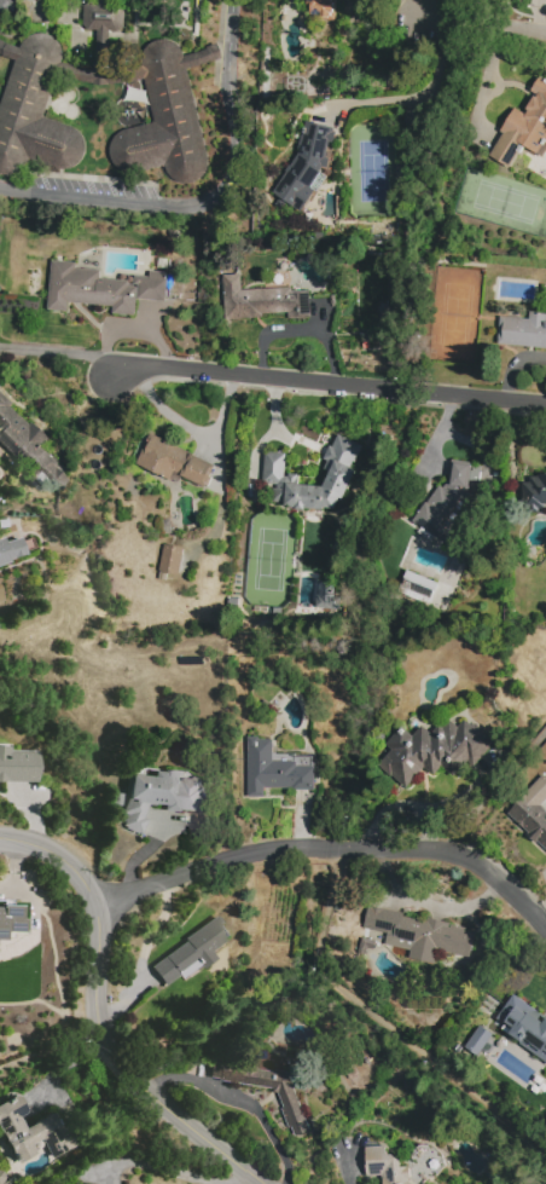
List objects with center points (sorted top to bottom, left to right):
building: (42, 0)
building: (321, 8)
road: (417, 11)
road: (484, 27)
road: (228, 86)
building: (27, 96)
road: (418, 96)
building: (411, 119)
building: (524, 128)
building: (309, 161)
road: (19, 190)
road: (103, 197)
road: (205, 201)
building: (150, 285)
building: (88, 289)
building: (255, 301)
building: (523, 331)
road: (60, 353)
road: (330, 387)
road: (170, 415)
building: (29, 443)
building: (173, 462)
road: (219, 473)
building: (342, 473)
building: (534, 493)
building: (446, 501)
building: (11, 548)
building: (172, 561)
building: (416, 587)
building: (326, 599)
building: (432, 752)
building: (18, 764)
building: (277, 769)
road: (495, 790)
building: (161, 793)
building: (532, 810)
road: (331, 850)
road: (425, 907)
building: (8, 914)
building: (423, 935)
building: (193, 952)
road: (98, 1018)
building: (517, 1020)
road: (381, 1027)
building: (477, 1040)
building: (265, 1087)
road: (237, 1099)
building: (41, 1130)
building: (388, 1163)
road: (343, 1167)
road: (169, 1171)

